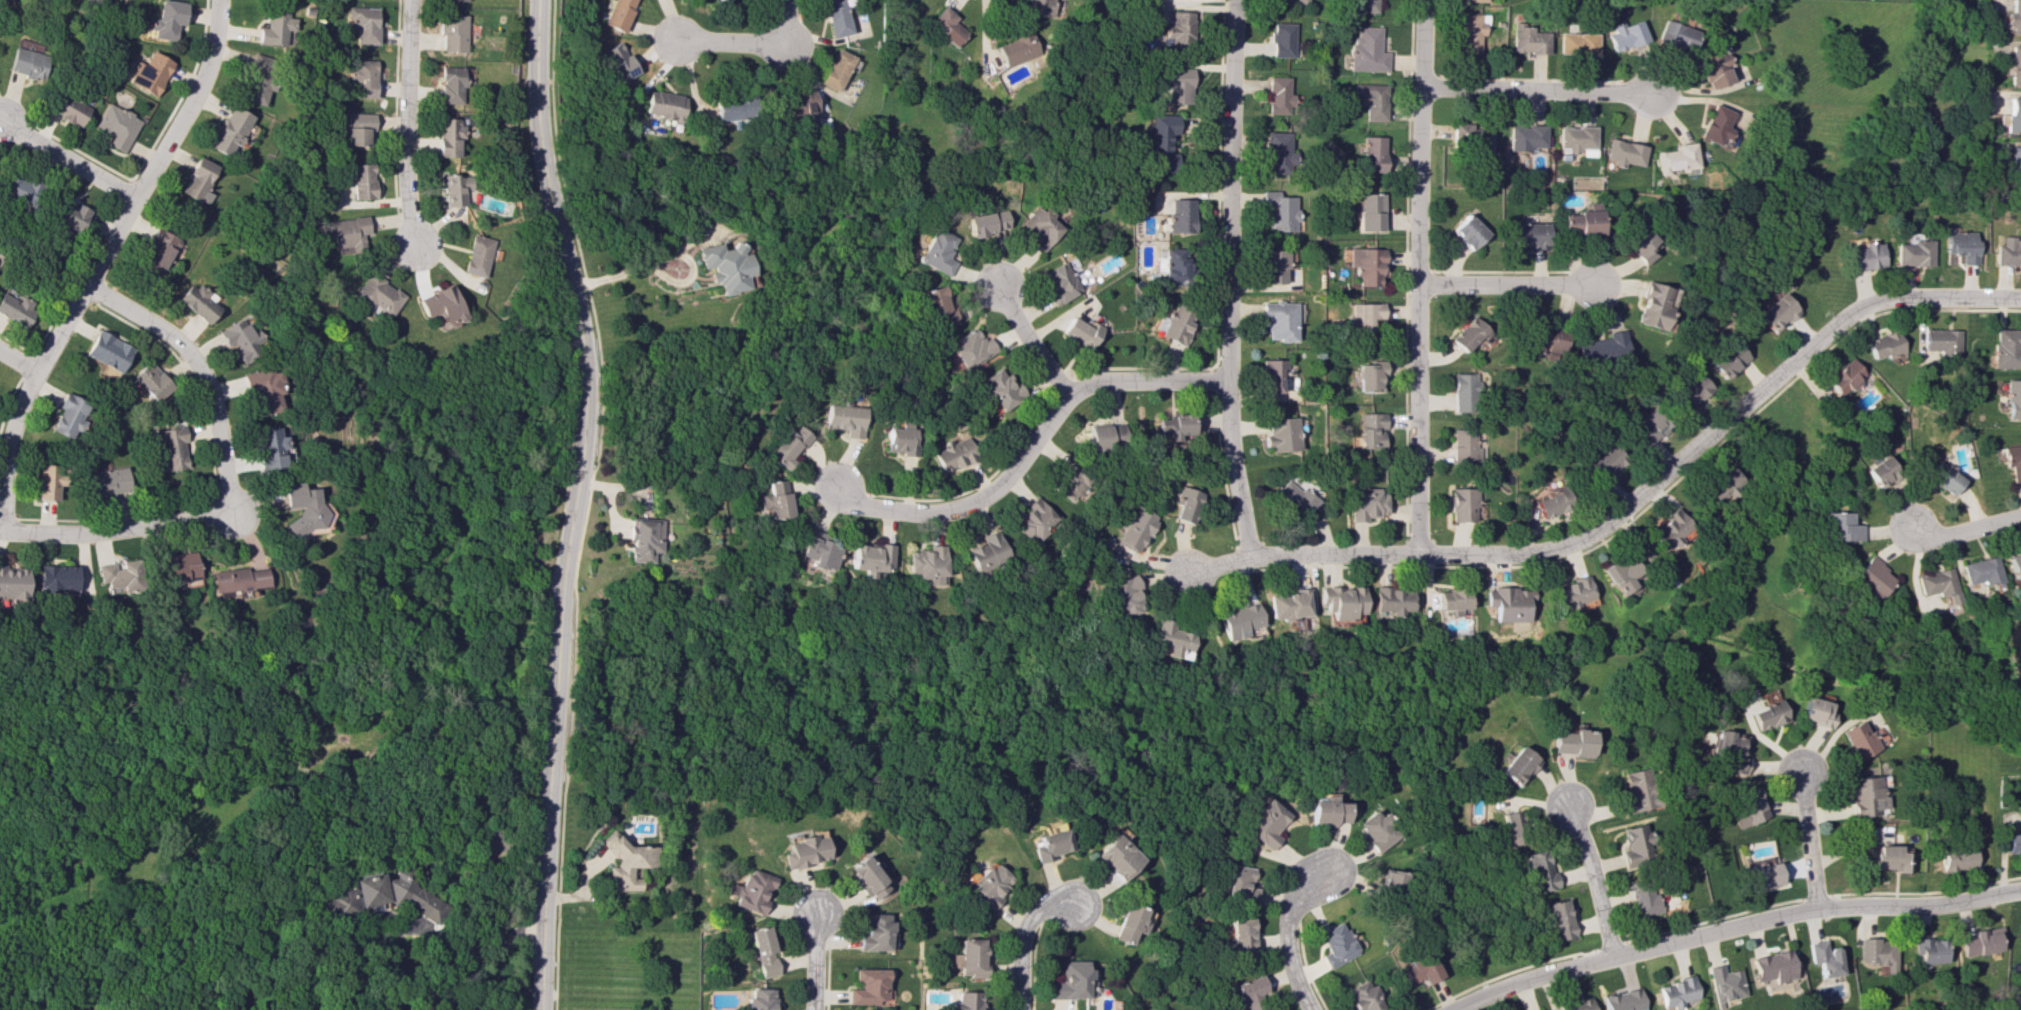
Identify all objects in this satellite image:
building: (456, 0)
building: (1488, 0)
building: (1290, 1)
building: (1363, 6)
building: (1040, 7)
building: (618, 14)
building: (832, 17)
building: (168, 19)
building: (362, 24)
building: (945, 26)
building: (274, 27)
building: (1179, 30)
building: (1471, 31)
building: (452, 33)
building: (1627, 35)
building: (1678, 35)
building: (1281, 39)
building: (1529, 40)
road: (748, 43)
building: (1578, 43)
building: (1017, 48)
building: (1368, 50)
building: (617, 62)
building: (29, 63)
building: (2014, 65)
building: (1713, 67)
building: (832, 69)
building: (150, 73)
building: (360, 76)
building: (258, 78)
building: (452, 83)
building: (1179, 86)
road: (1537, 91)
building: (1277, 95)
building: (1372, 100)
building: (796, 101)
building: (663, 105)
building: (732, 107)
building: (69, 108)
building: (2012, 115)
road: (405, 122)
building: (118, 125)
building: (354, 128)
building: (229, 130)
building: (447, 136)
building: (1473, 136)
building: (1526, 137)
building: (1576, 139)
building: (1163, 142)
building: (1277, 152)
building: (1624, 153)
building: (1374, 154)
building: (1675, 158)
road: (68, 160)
building: (2014, 164)
building: (198, 180)
building: (358, 180)
building: (13, 186)
building: (453, 189)
building: (1371, 211)
building: (70, 214)
building: (1181, 215)
building: (1581, 222)
building: (985, 223)
building: (1040, 227)
building: (1469, 231)
building: (344, 232)
building: (1530, 235)
building: (1639, 241)
building: (1961, 245)
building: (159, 251)
building: (936, 251)
building: (2007, 251)
building: (1913, 252)
building: (474, 256)
road: (661, 256)
building: (1864, 256)
road: (98, 262)
building: (1368, 265)
building: (724, 266)
building: (1274, 266)
building: (1176, 268)
road: (1417, 276)
road: (1227, 279)
building: (1060, 282)
road: (1506, 284)
building: (374, 294)
building: (198, 302)
building: (438, 305)
building: (936, 306)
building: (1653, 306)
building: (15, 309)
building: (1775, 312)
building: (1364, 317)
building: (1280, 320)
building: (1174, 323)
building: (1080, 332)
building: (1469, 334)
building: (241, 340)
building: (1548, 340)
building: (1941, 341)
road: (1029, 343)
building: (1883, 345)
building: (970, 348)
building: (1602, 348)
building: (2006, 348)
building: (108, 351)
road: (17, 360)
building: (1727, 360)
road: (200, 375)
building: (1272, 375)
building: (1372, 376)
building: (1844, 376)
building: (151, 381)
building: (263, 389)
building: (1000, 389)
building: (1690, 390)
building: (1463, 392)
building: (2013, 399)
building: (68, 416)
building: (843, 418)
building: (1175, 425)
building: (1647, 426)
building: (1372, 430)
building: (1281, 434)
building: (1103, 437)
building: (899, 441)
road: (1029, 443)
building: (1466, 445)
building: (787, 446)
building: (271, 448)
building: (169, 449)
road: (577, 450)
building: (952, 453)
building: (2013, 461)
building: (1604, 462)
building: (1880, 470)
building: (1067, 477)
building: (1942, 477)
building: (47, 480)
building: (106, 481)
building: (1720, 484)
building: (1294, 498)
building: (773, 500)
road: (1629, 500)
building: (1552, 503)
building: (1186, 504)
building: (1368, 504)
building: (1462, 504)
building: (300, 507)
building: (1033, 519)
building: (1837, 527)
building: (1133, 528)
road: (112, 529)
building: (1668, 529)
road: (1964, 529)
building: (642, 540)
building: (818, 550)
building: (984, 552)
building: (868, 558)
building: (924, 564)
building: (2014, 564)
building: (175, 567)
building: (1980, 570)
building: (1619, 573)
building: (117, 574)
building: (54, 577)
building: (1868, 578)
building: (234, 579)
building: (11, 582)
building: (1935, 584)
building: (1568, 593)
building: (1121, 596)
building: (1451, 600)
building: (1339, 601)
building: (1390, 601)
building: (1505, 603)
building: (1285, 604)
building: (1235, 620)
building: (1168, 639)
building: (1816, 712)
building: (1767, 714)
park: (904, 721)
building: (1858, 739)
building: (1571, 743)
road: (566, 748)
building: (1732, 751)
building: (1515, 765)
building: (1633, 792)
building: (1866, 795)
building: (1747, 806)
building: (1325, 811)
building: (1261, 823)
building: (1508, 828)
building: (1373, 829)
road: (1809, 839)
building: (1635, 843)
building: (2013, 843)
building: (1047, 845)
building: (804, 851)
building: (1114, 856)
building: (1890, 858)
building: (1957, 859)
building: (621, 862)
building: (1536, 870)
building: (1764, 874)
building: (863, 877)
road: (1589, 879)
building: (1390, 881)
building: (987, 885)
building: (1237, 885)
building: (750, 890)
building: (379, 895)
building: (1639, 896)
building: (1555, 920)
building: (1124, 923)
road: (1731, 928)
building: (873, 932)
building: (2020, 932)
building: (1236, 935)
road: (1284, 935)
road: (1017, 937)
building: (1981, 941)
building: (1334, 944)
road: (460, 947)
building: (1930, 950)
building: (762, 951)
building: (1878, 953)
road: (540, 955)
building: (967, 957)
building: (1827, 958)
road: (812, 965)
building: (1775, 966)
building: (1420, 969)
building: (1068, 980)
building: (1725, 983)
building: (869, 987)
building: (1250, 992)
building: (1675, 992)
building: (1362, 997)
building: (760, 999)
building: (1621, 1000)
building: (964, 1001)
building: (1575, 1005)
building: (1536, 1009)

